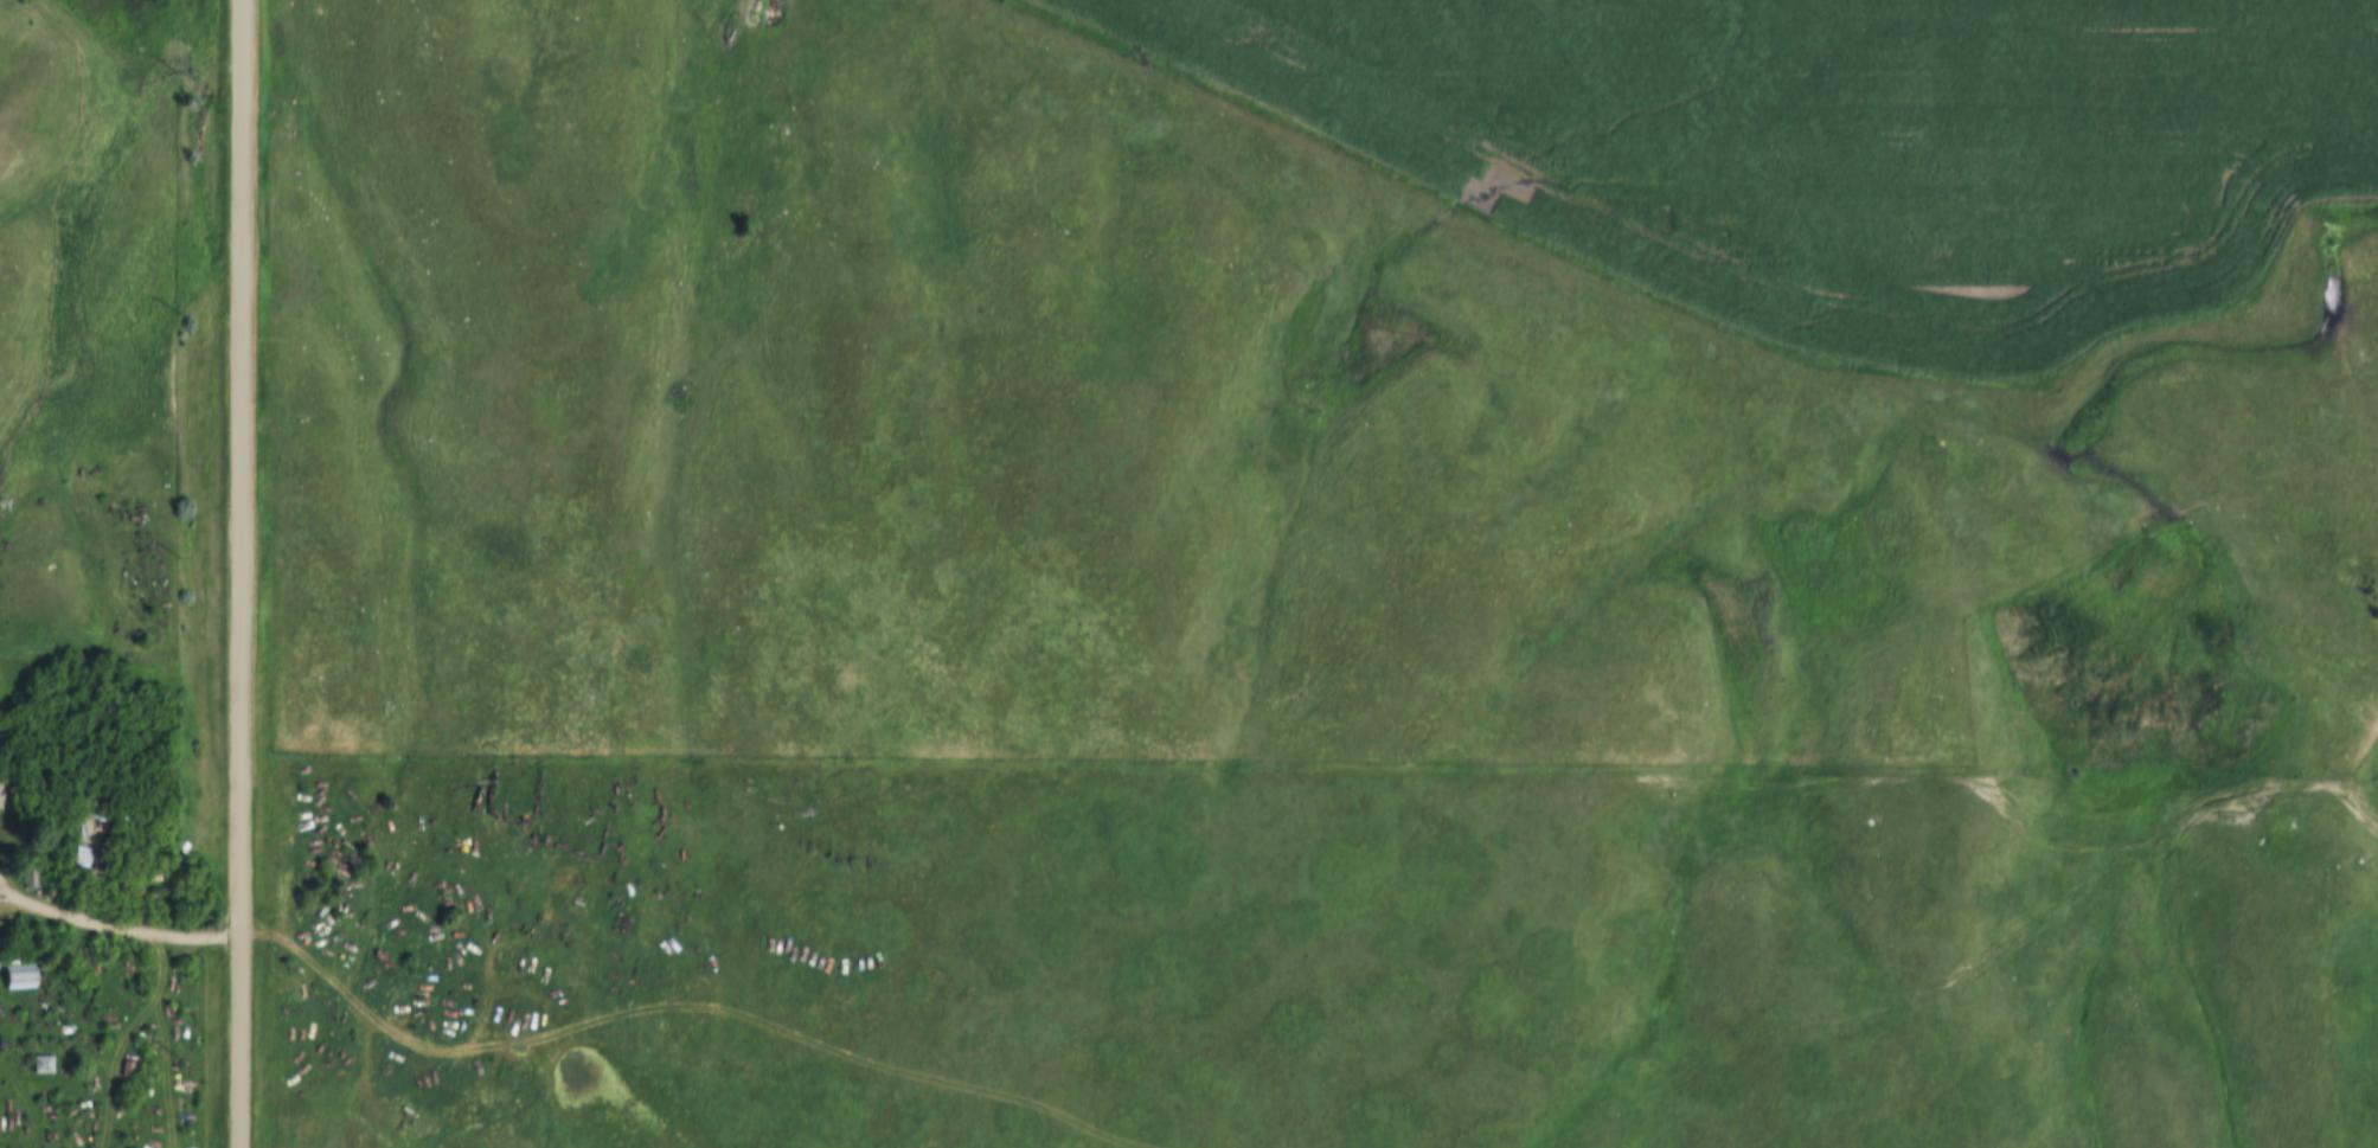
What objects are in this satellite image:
road: (239, 573)
building: (90, 845)
building: (28, 870)
road: (117, 931)
building: (15, 979)
building: (40, 1065)

